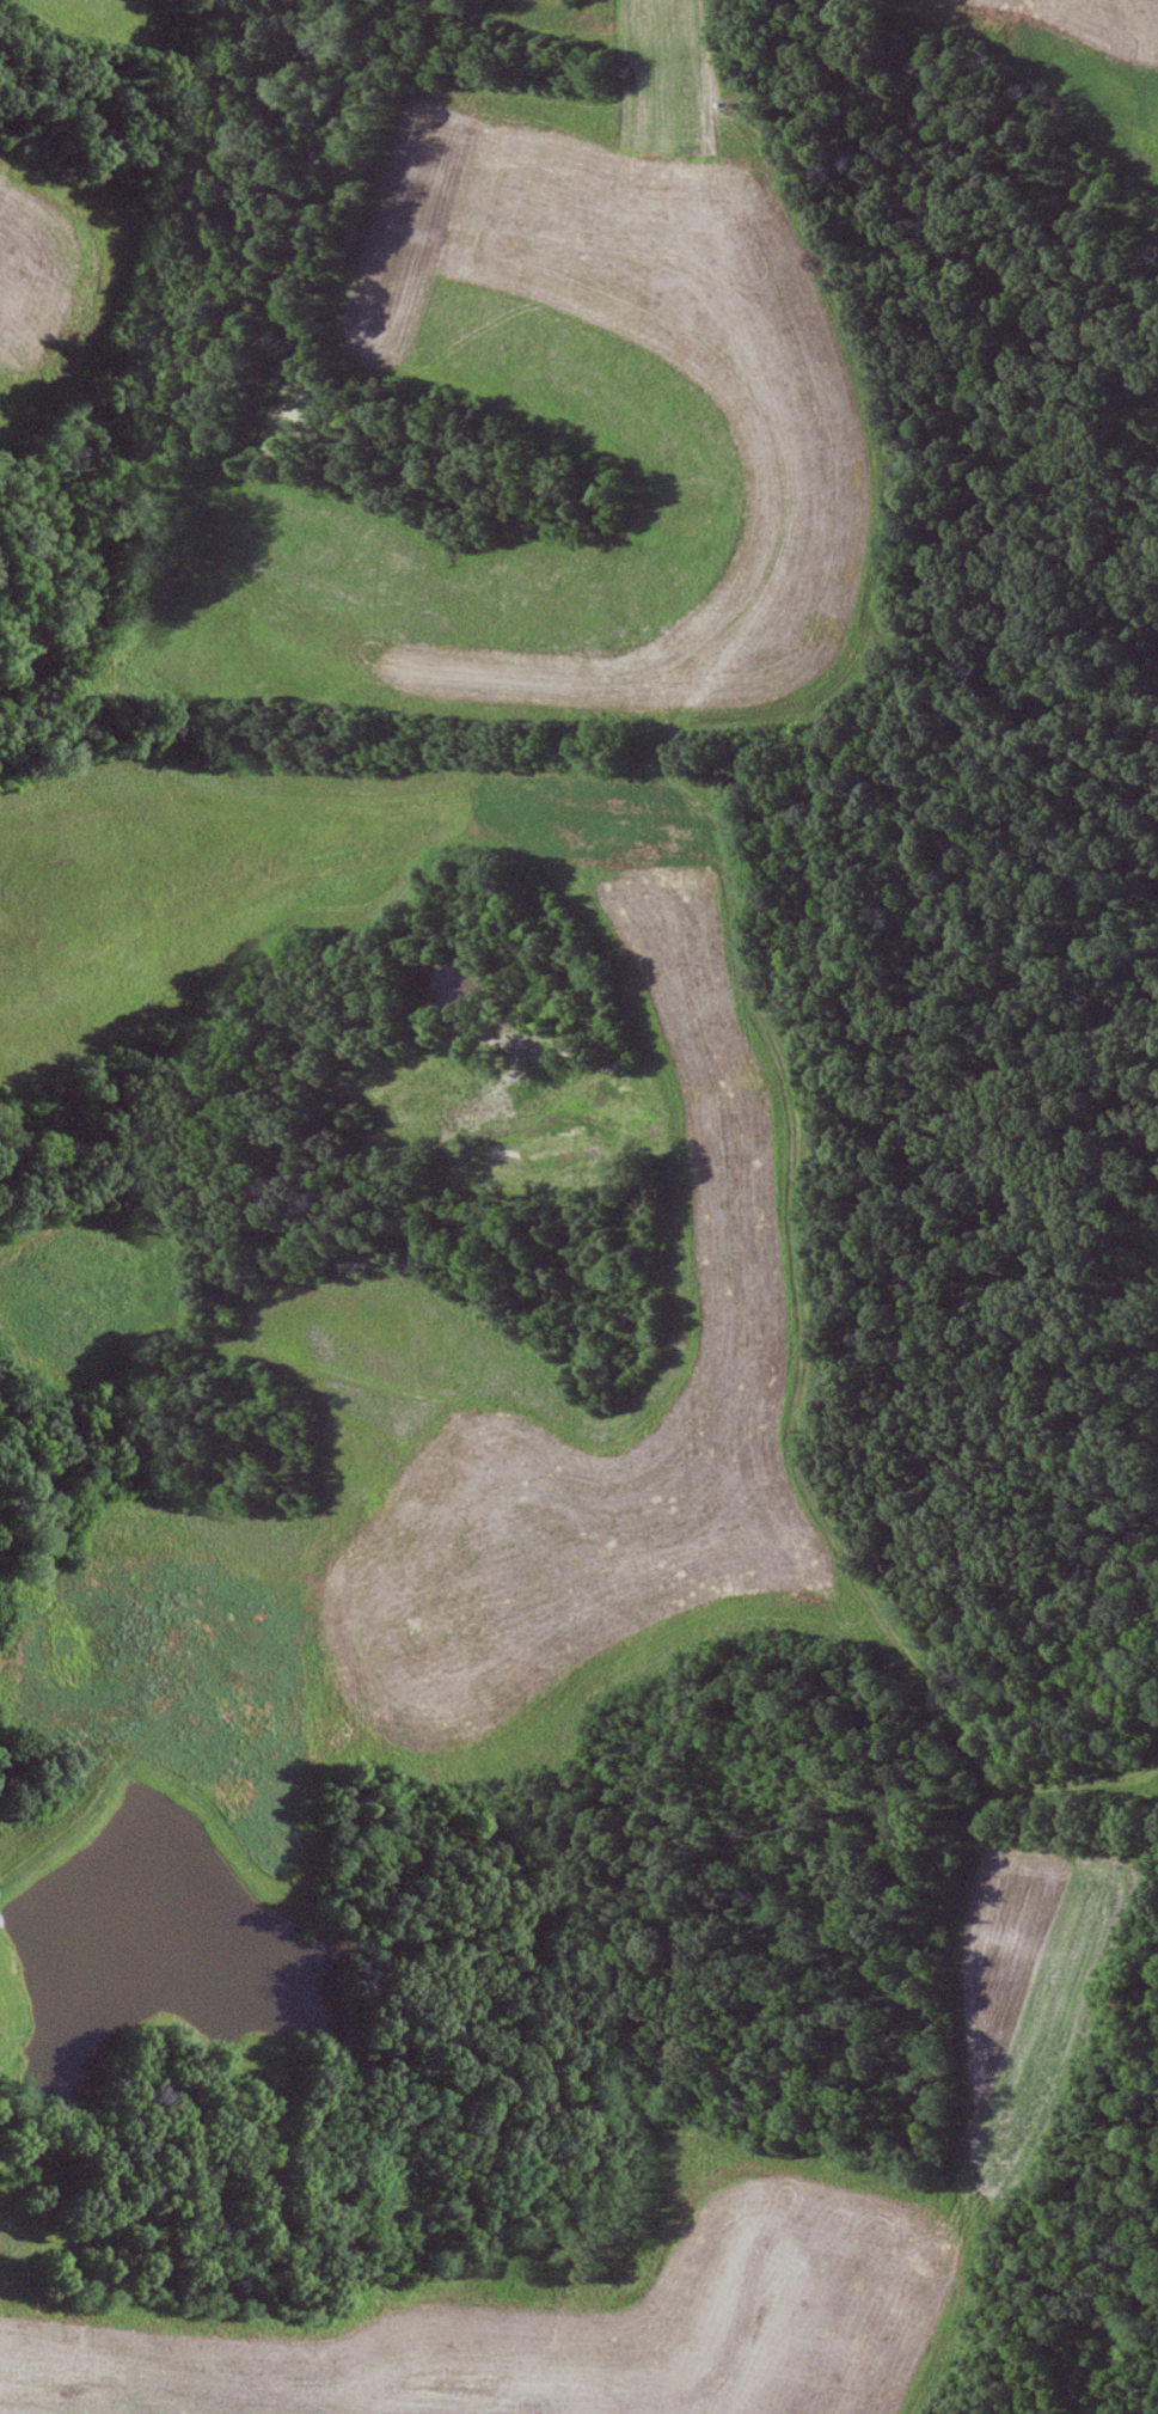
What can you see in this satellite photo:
building: (250, 1716)
road: (114, 1784)
road: (974, 2284)

